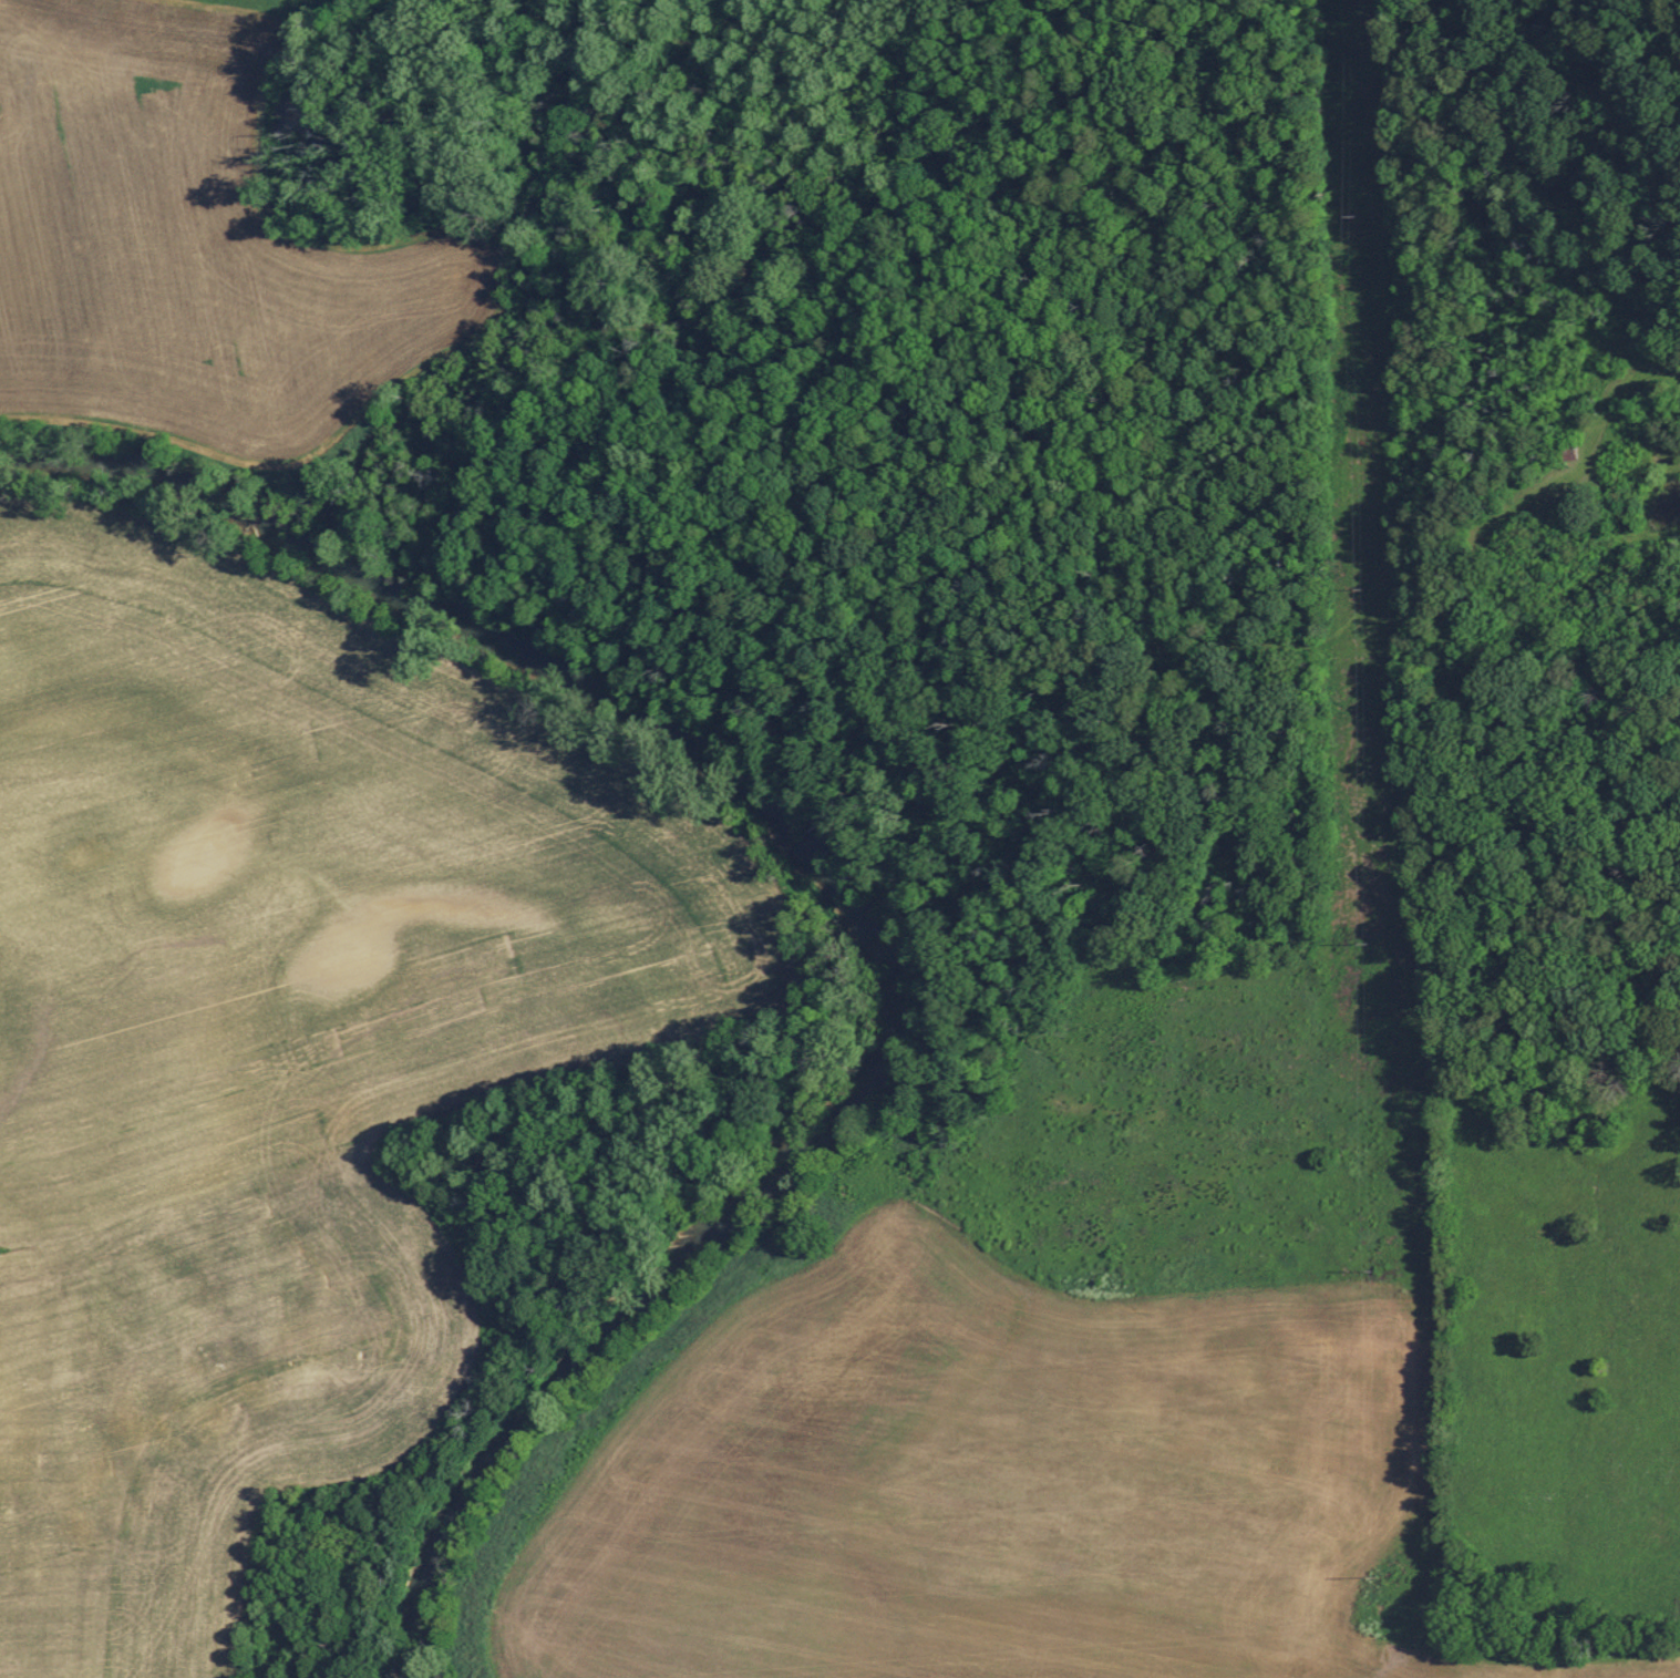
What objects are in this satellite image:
road: (1609, 362)
river: (864, 914)

